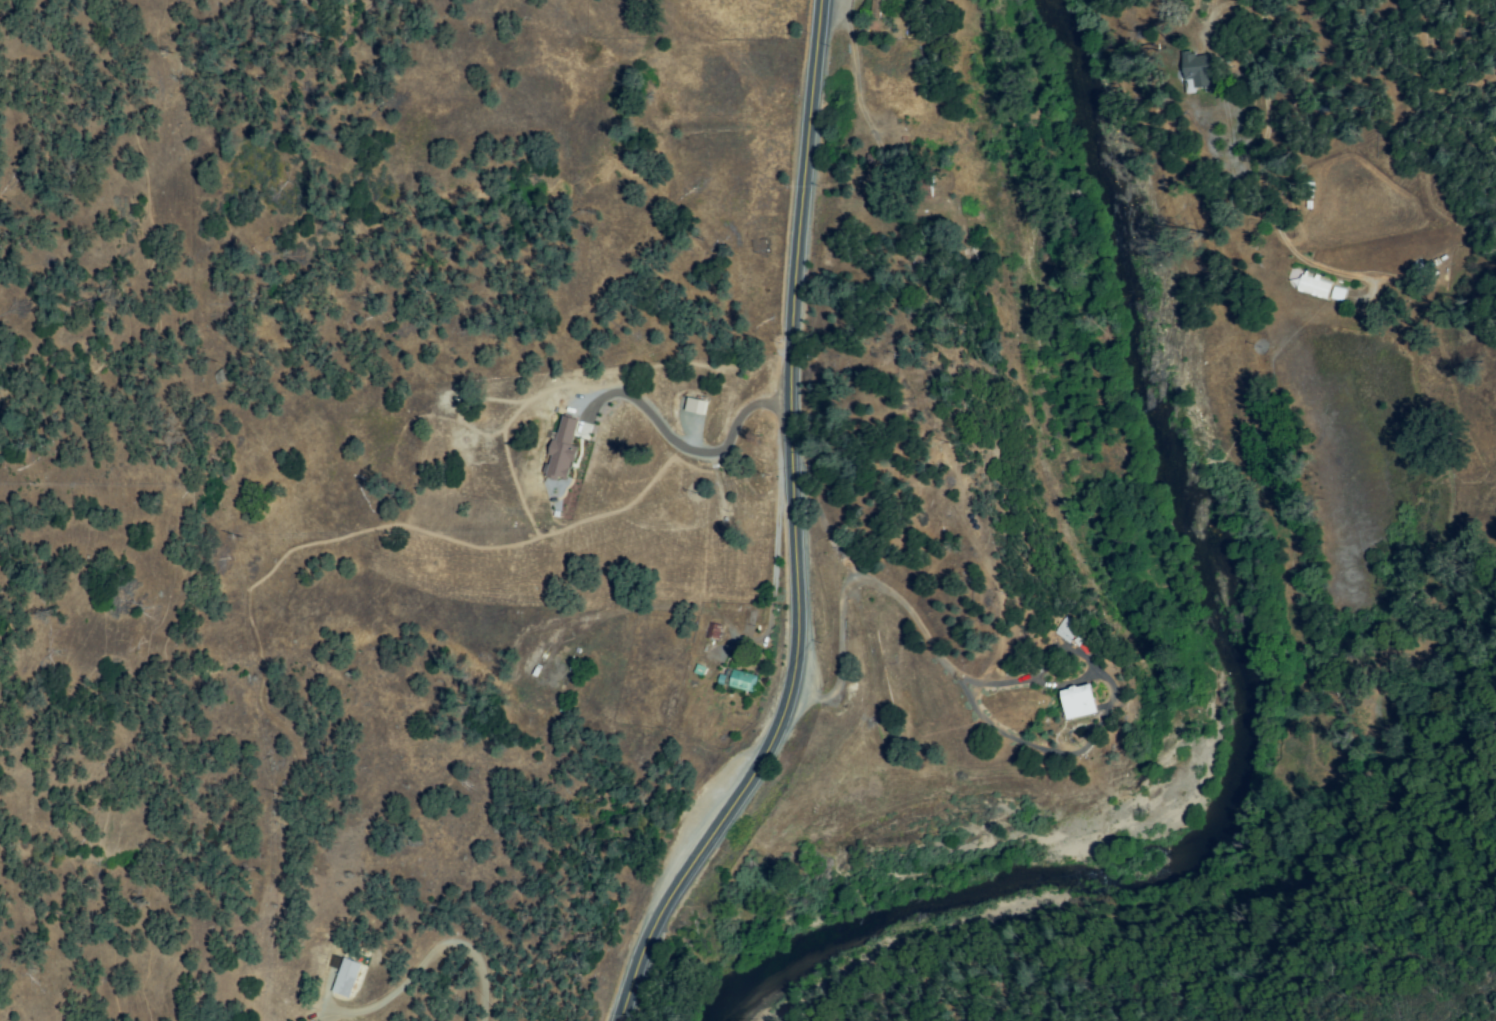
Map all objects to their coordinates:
building: (876, 5)
building: (1196, 73)
road: (1343, 117)
road: (936, 149)
building: (1314, 286)
building: (1337, 294)
building: (695, 406)
road: (676, 441)
building: (562, 449)
river: (1209, 526)
road: (793, 532)
building: (1067, 630)
building: (713, 631)
building: (743, 682)
building: (1079, 702)
river: (987, 897)
river: (834, 941)
road: (428, 949)
building: (346, 977)

